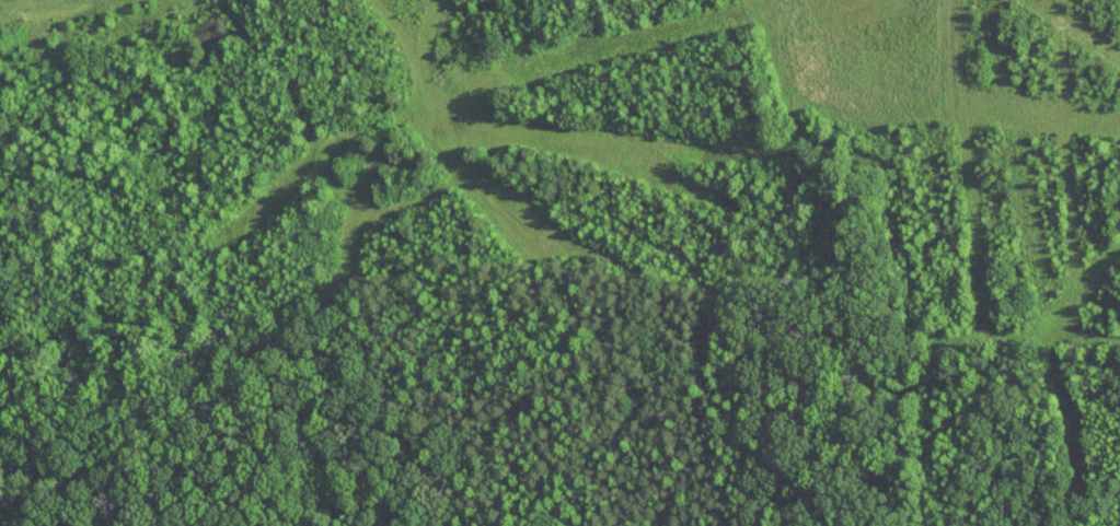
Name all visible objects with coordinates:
road: (978, 207)

